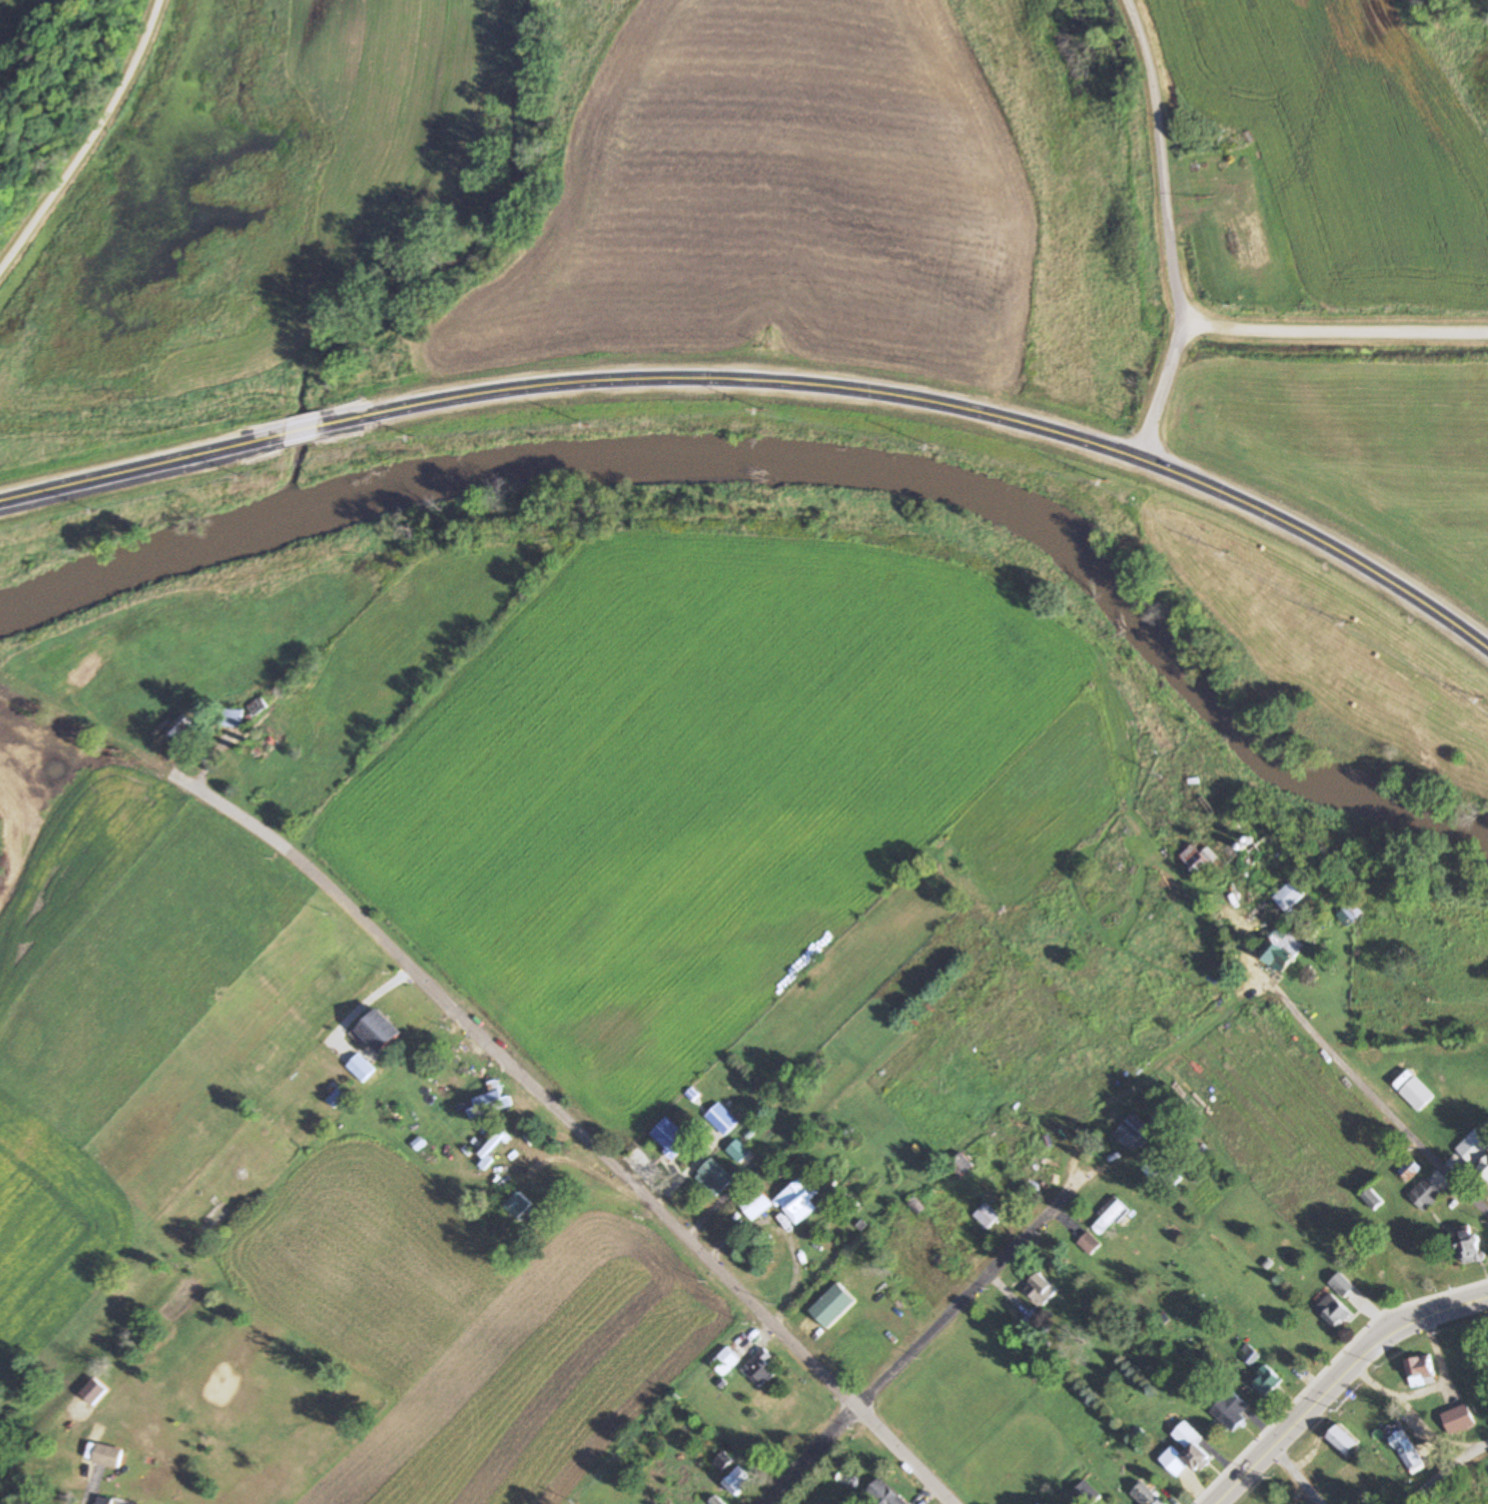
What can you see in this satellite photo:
road: (88, 141)
road: (1173, 232)
road: (1337, 333)
road: (932, 408)
road: (307, 430)
river: (799, 462)
road: (143, 468)
building: (258, 706)
building: (231, 718)
building: (183, 730)
building: (1195, 859)
building: (1289, 896)
building: (1281, 949)
building: (378, 1031)
building: (360, 1067)
road: (1370, 1086)
building: (1417, 1093)
building: (490, 1101)
building: (721, 1119)
road: (570, 1128)
building: (1129, 1135)
building: (670, 1137)
building: (1474, 1145)
building: (495, 1149)
building: (737, 1150)
building: (959, 1164)
building: (1409, 1169)
building: (1483, 1170)
building: (713, 1177)
building: (1425, 1193)
building: (1372, 1199)
building: (798, 1200)
building: (519, 1205)
building: (755, 1205)
building: (985, 1215)
building: (1107, 1217)
building: (497, 1218)
building: (1087, 1244)
building: (1468, 1244)
building: (1342, 1285)
building: (1039, 1290)
building: (1333, 1311)
road: (922, 1336)
building: (861, 1356)
building: (724, 1362)
building: (759, 1367)
building: (1421, 1371)
road: (1336, 1378)
building: (1266, 1381)
building: (94, 1390)
building: (1231, 1411)
building: (1458, 1418)
building: (1342, 1441)
building: (1191, 1447)
building: (1405, 1450)
building: (108, 1454)
building: (1348, 1473)
road: (1449, 1473)
road: (1293, 1474)
building: (738, 1479)
building: (883, 1493)
building: (1085, 1493)
building: (1145, 1495)
building: (105, 1500)
building: (715, 1500)

